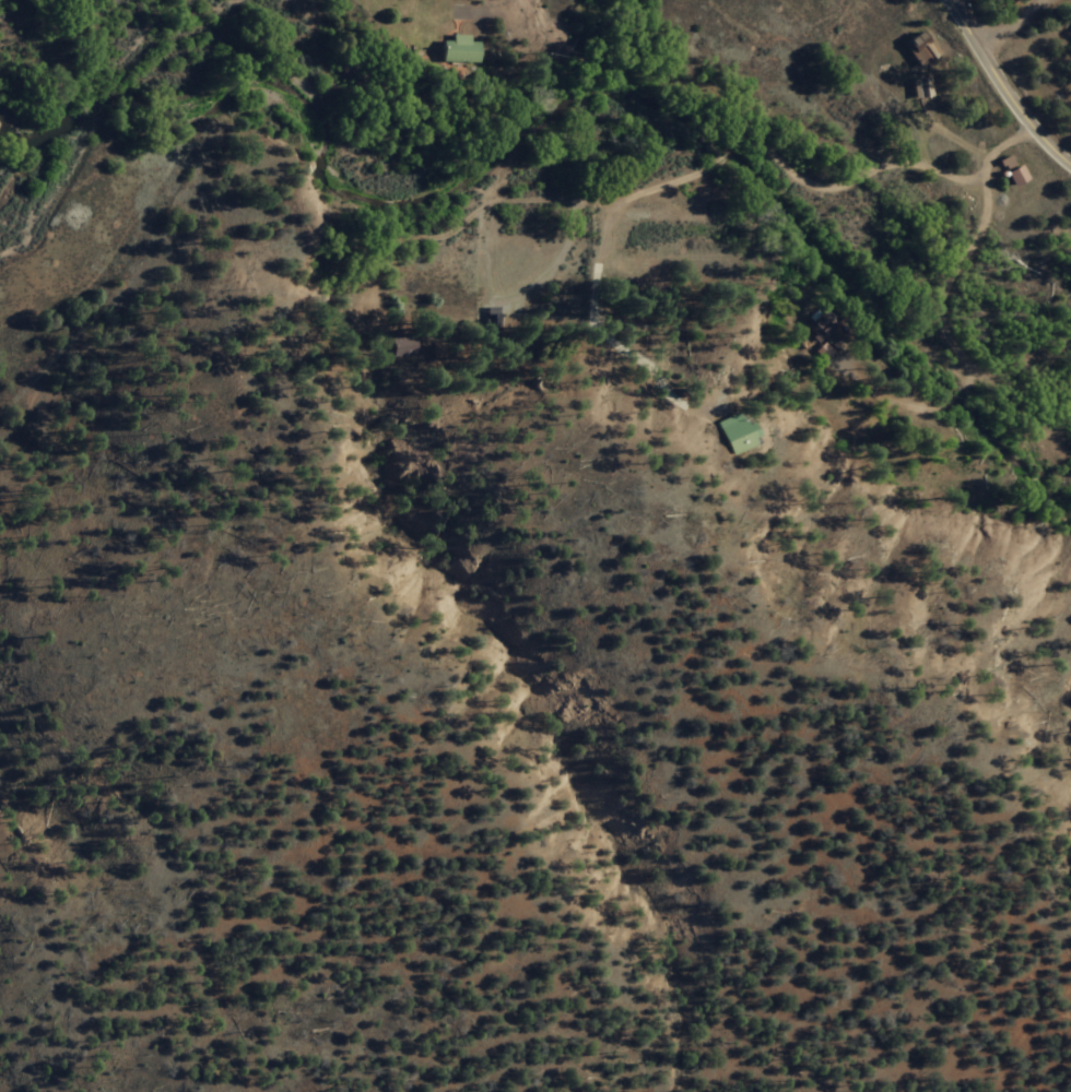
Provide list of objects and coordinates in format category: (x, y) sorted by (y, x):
road: (1010, 27)
building: (457, 50)
building: (918, 50)
road: (999, 91)
road: (823, 190)
building: (815, 329)
road: (620, 345)
building: (733, 436)

